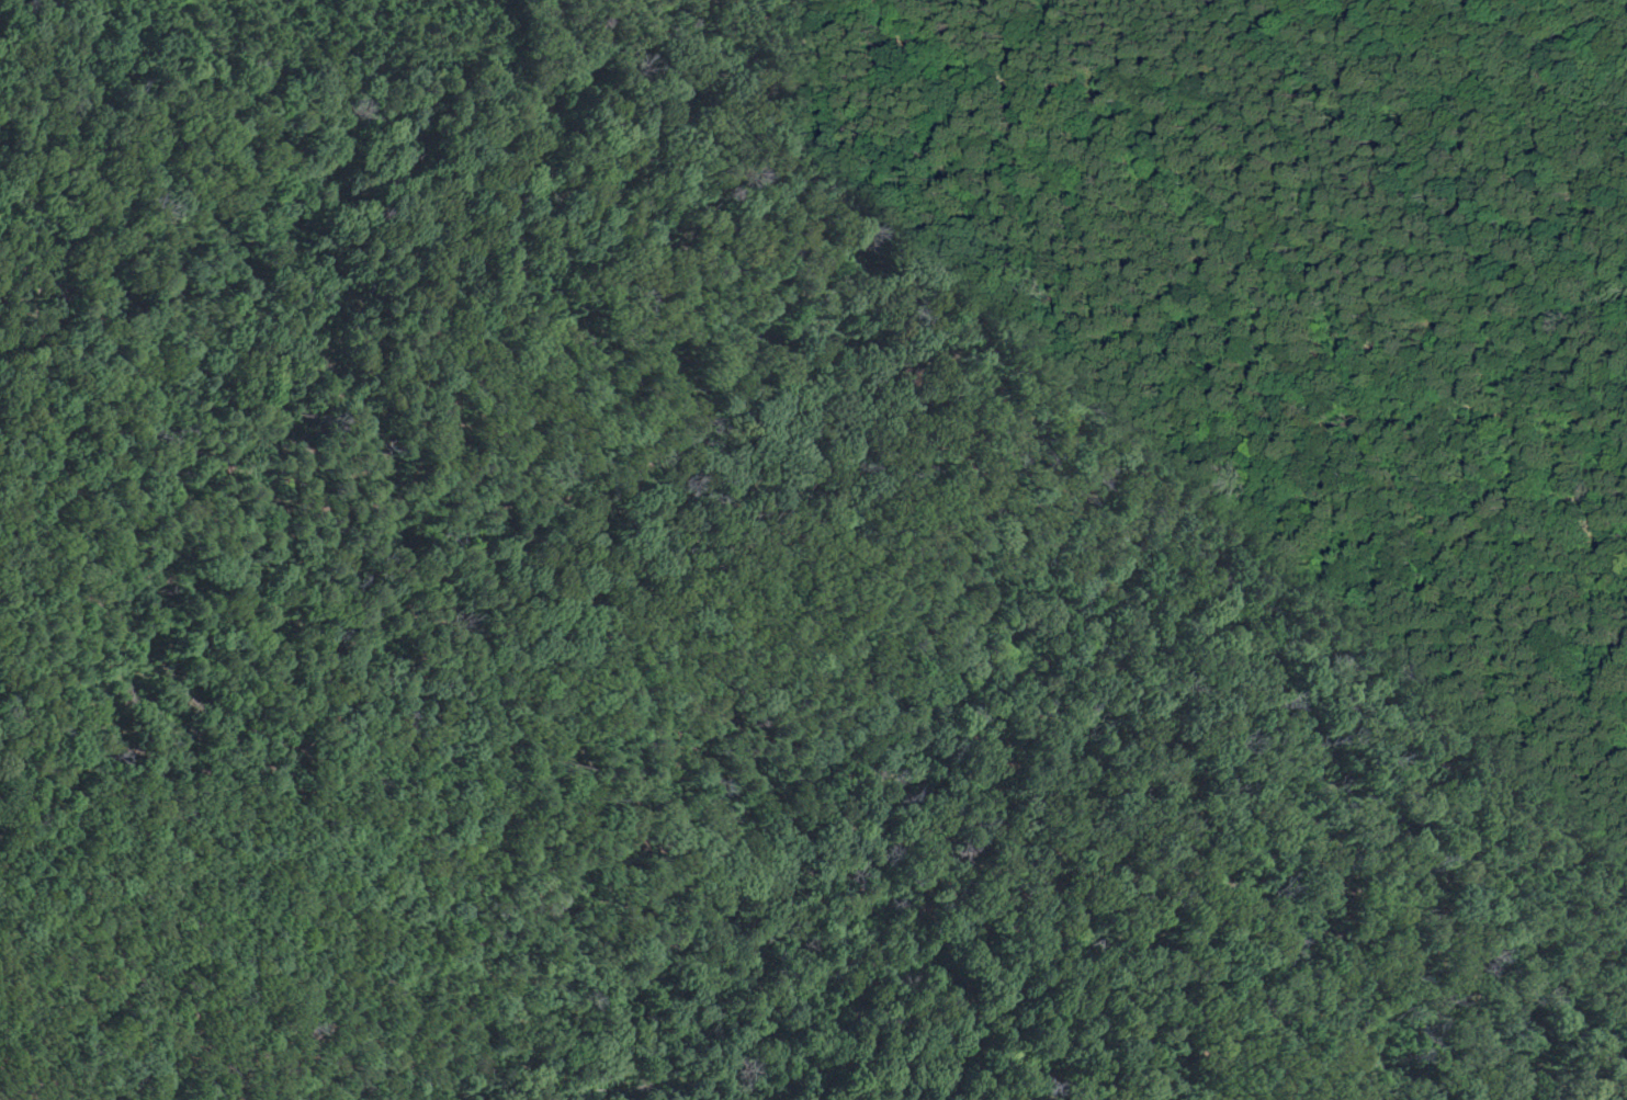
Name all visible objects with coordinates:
road: (1306, 356)

